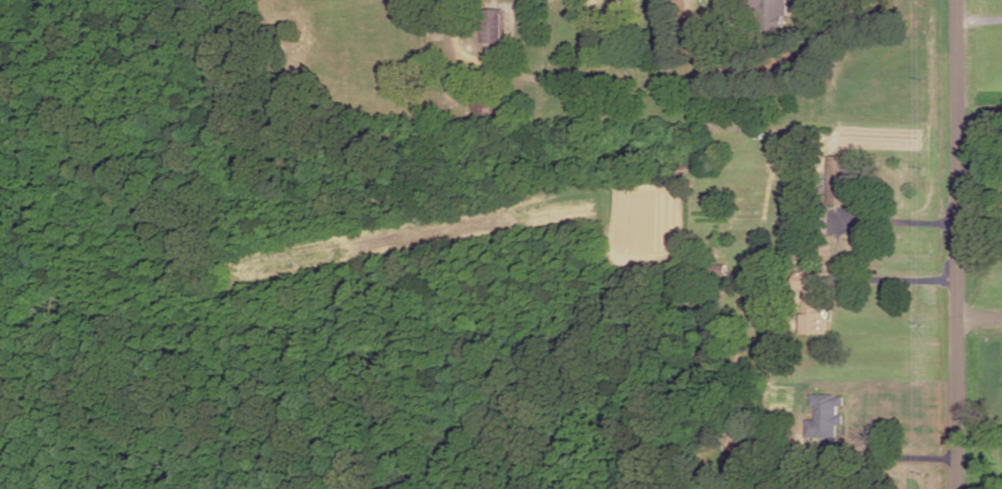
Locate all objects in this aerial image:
building: (731, 1)
road: (979, 17)
building: (492, 24)
road: (716, 71)
road: (896, 223)
road: (955, 244)
road: (898, 276)
building: (812, 303)
road: (978, 308)
building: (826, 414)
road: (897, 451)

